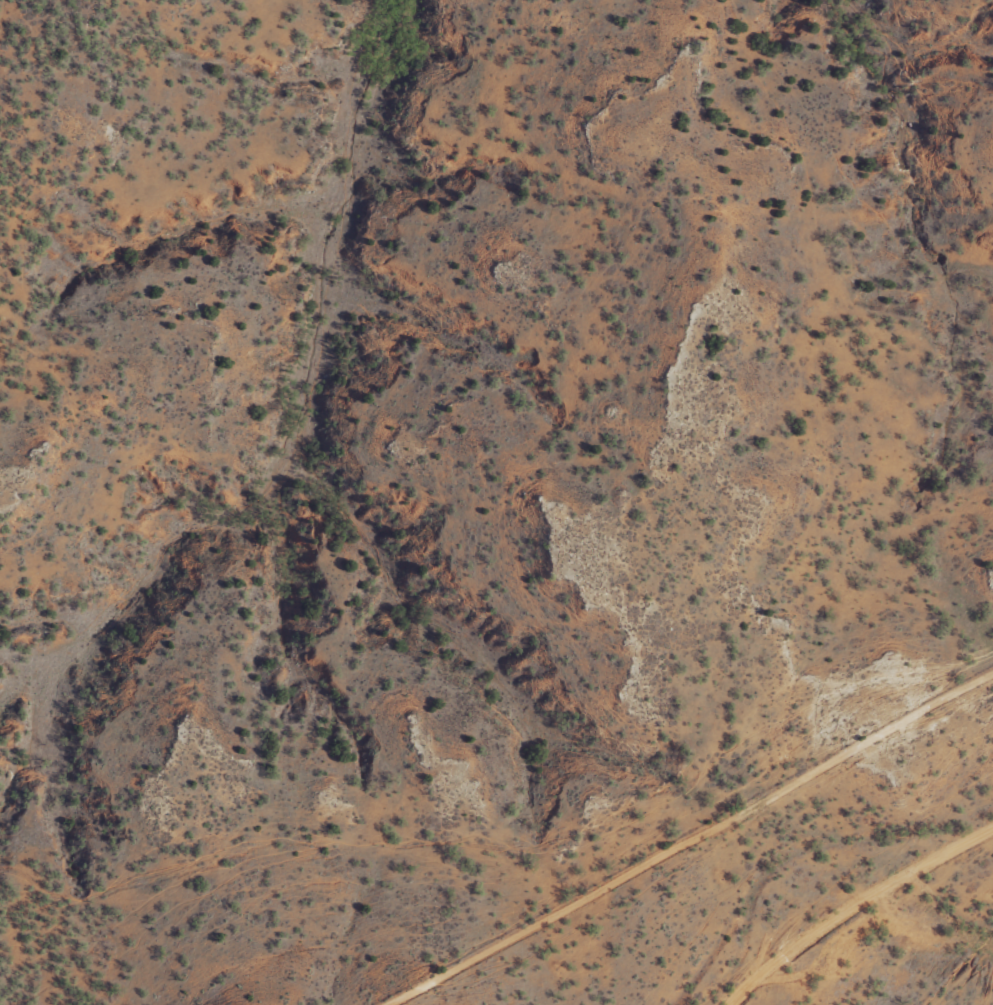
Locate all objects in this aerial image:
road: (693, 839)
road: (951, 849)
road: (812, 931)

